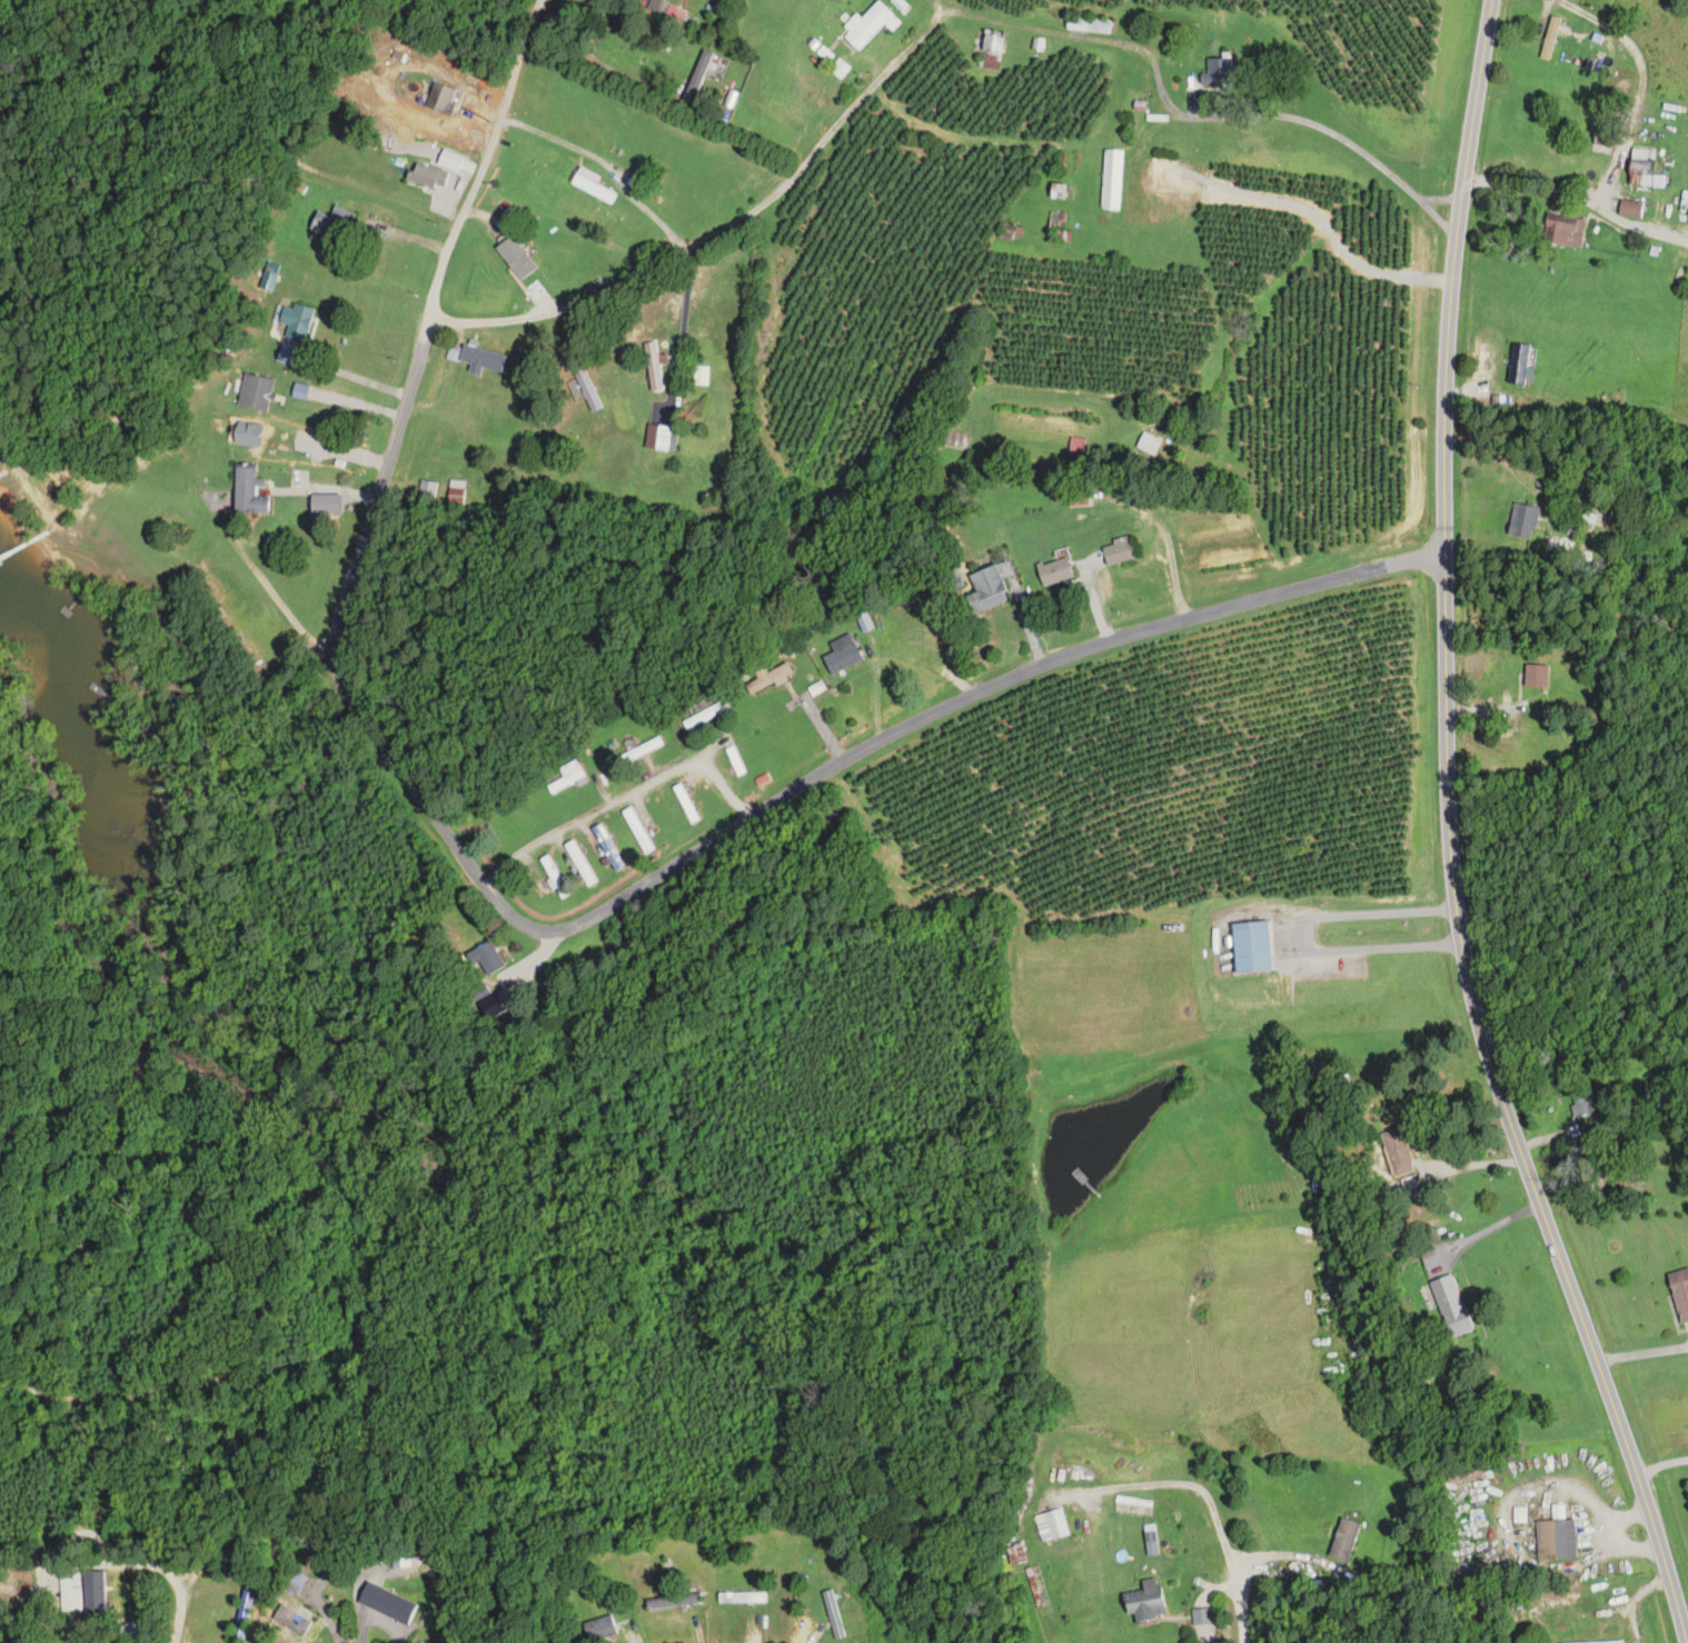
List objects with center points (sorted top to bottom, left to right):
building: (866, 26)
building: (1089, 26)
building: (1550, 38)
park: (207, 49)
building: (990, 50)
building: (1218, 72)
building: (698, 76)
road: (1644, 86)
building: (444, 98)
building: (780, 116)
road: (1302, 119)
road: (608, 159)
building: (450, 160)
building: (1644, 169)
building: (1162, 175)
building: (428, 176)
building: (1111, 179)
building: (592, 185)
road: (1579, 197)
building: (1630, 208)
building: (332, 228)
building: (1561, 230)
road: (717, 231)
building: (1007, 231)
road: (1333, 235)
building: (516, 258)
building: (296, 321)
building: (476, 357)
building: (1519, 362)
building: (653, 367)
road: (347, 371)
building: (587, 389)
building: (256, 392)
building: (252, 437)
building: (661, 437)
building: (1149, 442)
building: (549, 447)
road: (377, 488)
building: (248, 491)
building: (456, 491)
building: (1078, 498)
building: (330, 506)
building: (1598, 516)
building: (1523, 519)
building: (1557, 544)
building: (1118, 550)
building: (1054, 570)
building: (4, 572)
road: (268, 585)
building: (986, 587)
building: (864, 619)
building: (844, 658)
building: (1536, 675)
building: (769, 677)
road: (966, 694)
building: (707, 715)
building: (735, 760)
building: (568, 776)
road: (619, 798)
building: (685, 801)
building: (637, 829)
road: (1456, 835)
building: (607, 845)
building: (580, 863)
building: (669, 896)
building: (1250, 947)
building: (488, 957)
building: (1585, 1102)
building: (1649, 1123)
building: (1398, 1151)
road: (1486, 1229)
building: (1680, 1292)
building: (1451, 1305)
road: (1661, 1463)
building: (1051, 1525)
building: (1344, 1540)
building: (1557, 1540)
road: (145, 1560)
road: (1247, 1567)
building: (297, 1584)
building: (80, 1590)
road: (1204, 1596)
building: (741, 1597)
building: (675, 1601)
building: (1145, 1602)
building: (387, 1604)
building: (832, 1614)
road: (183, 1615)
building: (244, 1615)
building: (298, 1624)
building: (600, 1629)
building: (1609, 1642)

